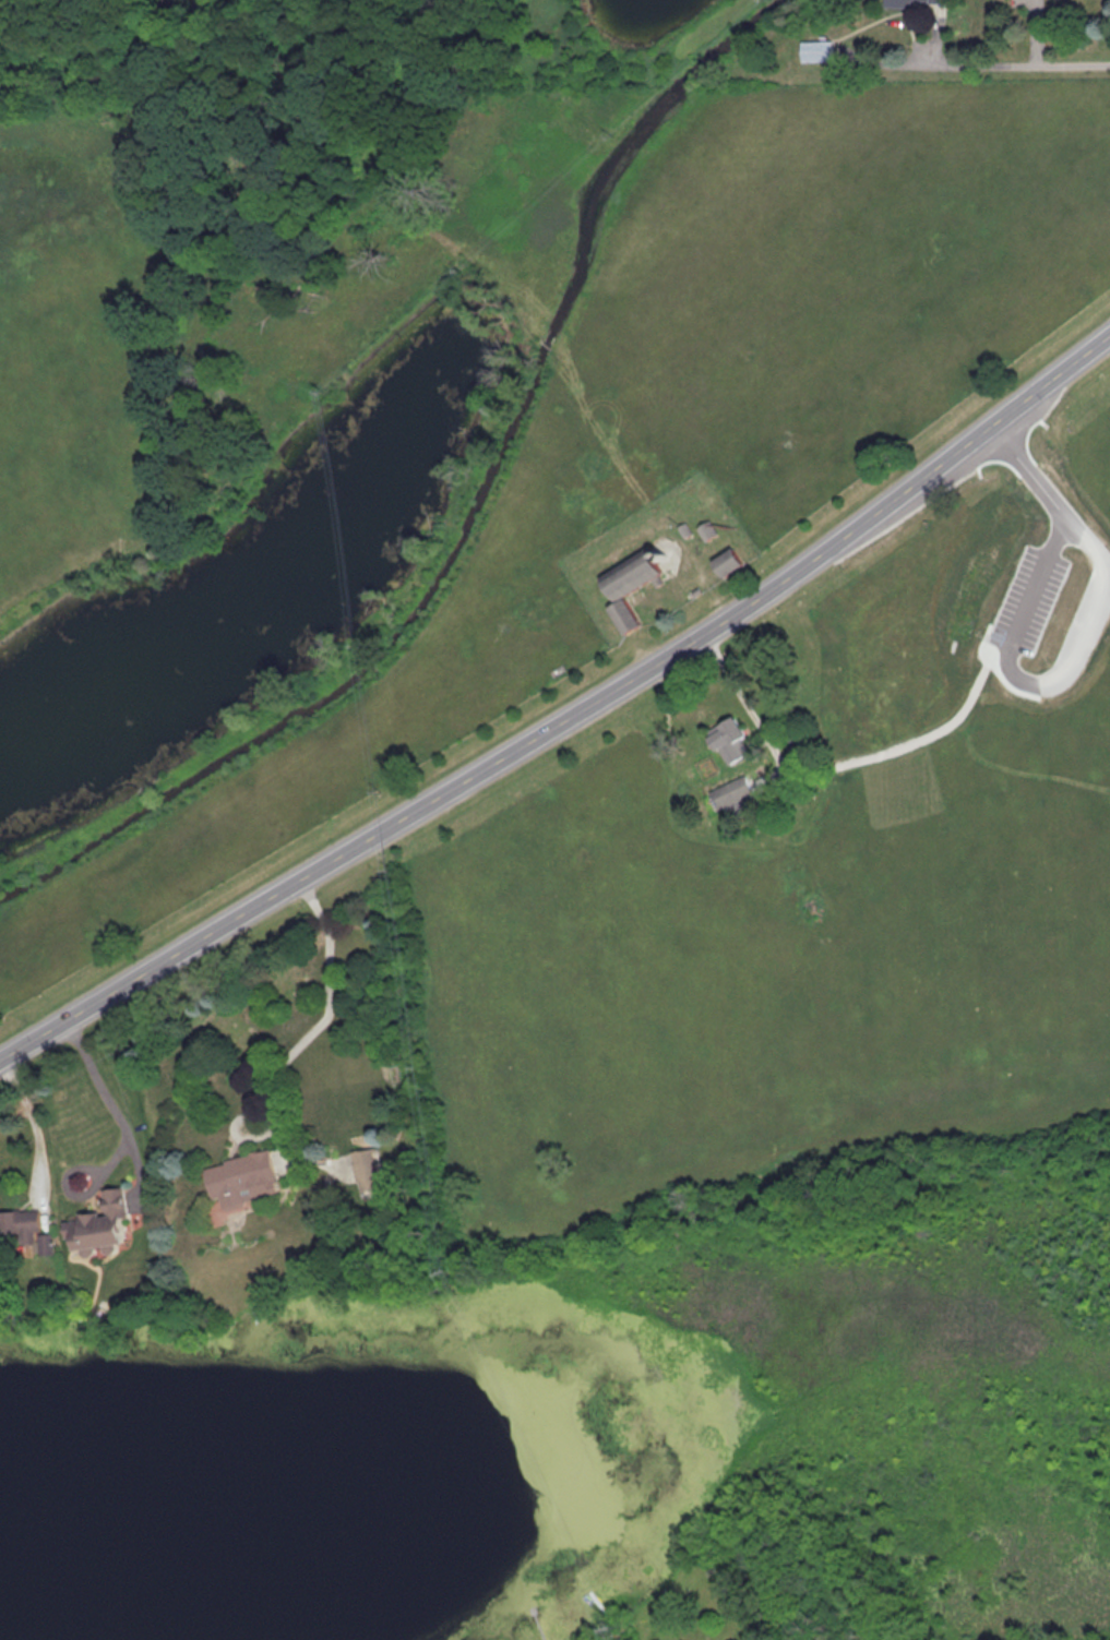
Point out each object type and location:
building: (916, 2)
road: (1031, 34)
building: (816, 51)
road: (1061, 67)
building: (683, 530)
building: (707, 531)
building: (726, 563)
building: (629, 577)
building: (694, 592)
parking lot: (1028, 595)
building: (623, 618)
park: (595, 619)
road: (1076, 643)
road: (569, 720)
building: (729, 742)
building: (798, 751)
building: (732, 793)
road: (285, 1054)
road: (106, 1102)
road: (29, 1127)
building: (368, 1171)
building: (241, 1180)
building: (98, 1224)
building: (26, 1232)

